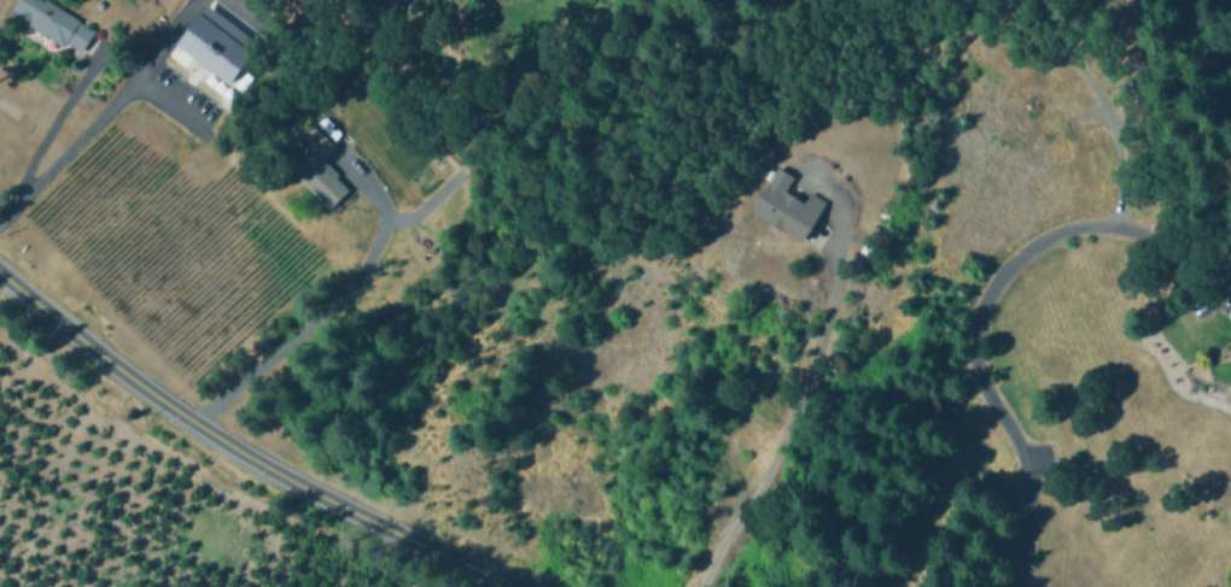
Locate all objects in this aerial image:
building: (58, 19)
building: (214, 41)
road: (1108, 105)
road: (100, 112)
road: (48, 129)
building: (320, 165)
building: (787, 209)
road: (338, 298)
road: (979, 307)
building: (1229, 312)
road: (789, 418)
road: (246, 453)

